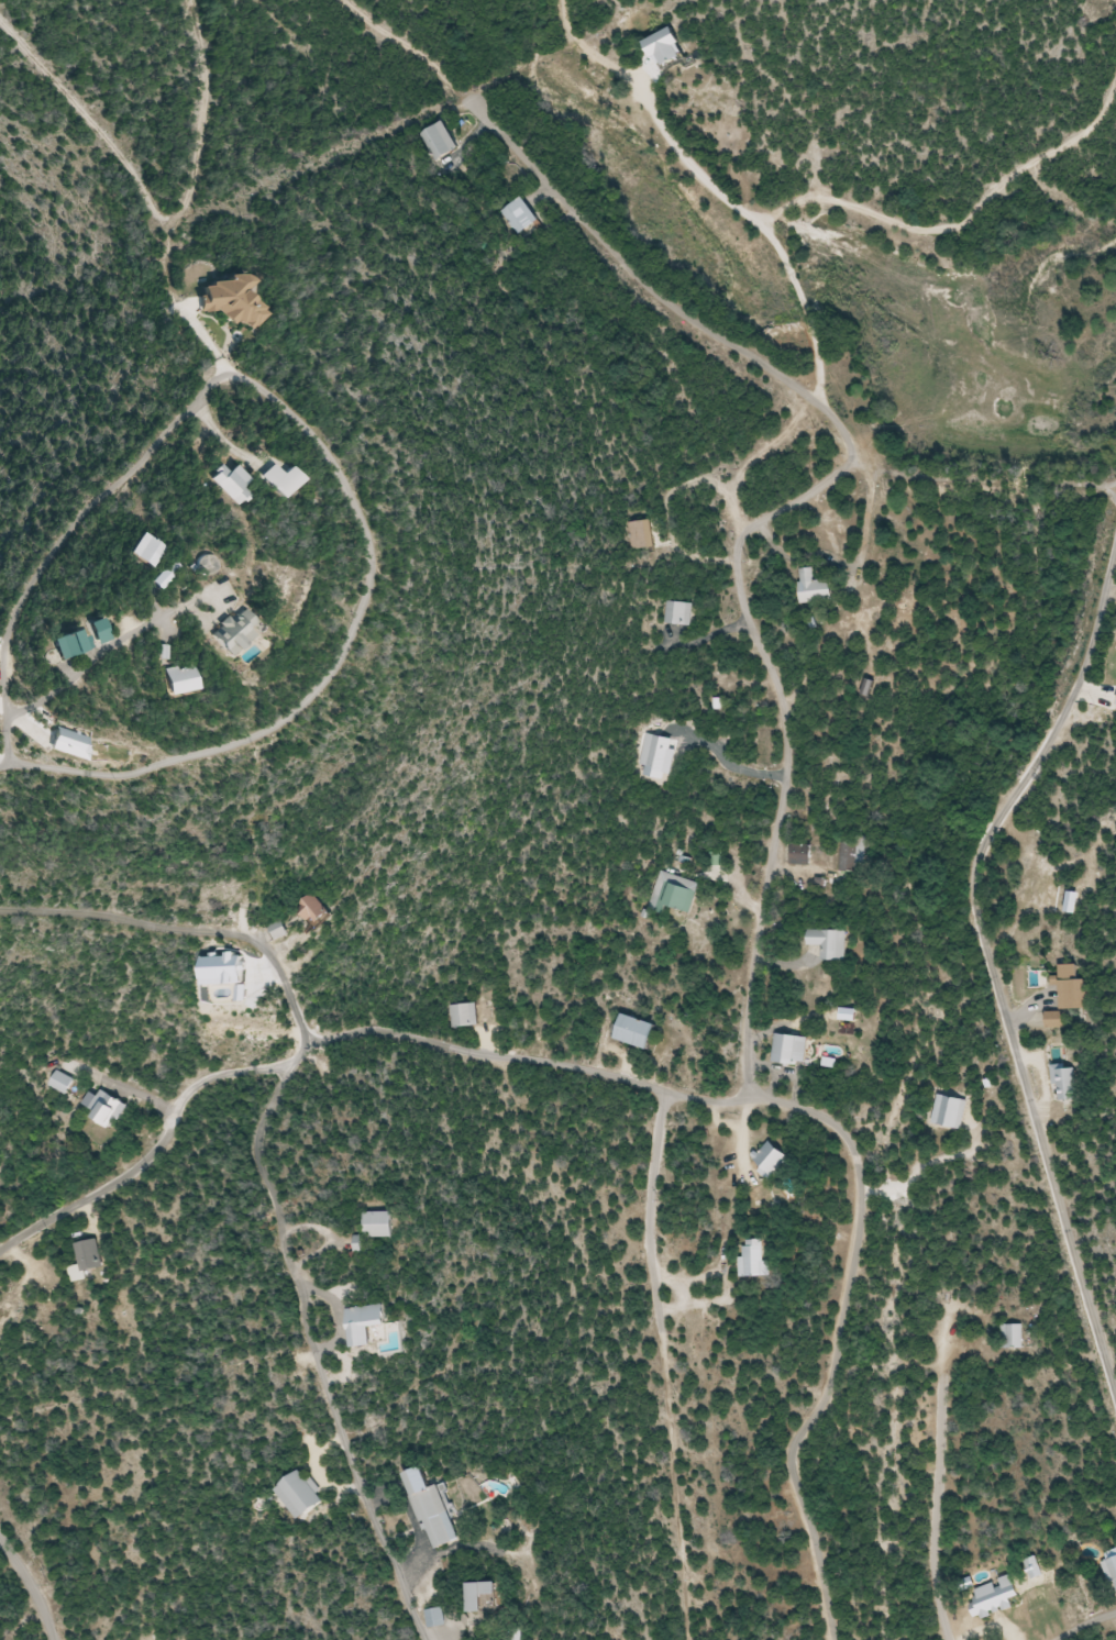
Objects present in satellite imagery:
building: (443, 142)
building: (521, 215)
building: (236, 301)
building: (285, 481)
building: (233, 484)
building: (643, 535)
building: (150, 551)
road: (372, 581)
building: (815, 588)
building: (682, 613)
building: (103, 634)
building: (239, 634)
building: (73, 646)
building: (184, 679)
road: (67, 683)
building: (71, 744)
road: (782, 800)
building: (802, 853)
building: (852, 856)
building: (676, 894)
building: (320, 911)
road: (184, 930)
building: (281, 930)
building: (829, 944)
road: (988, 963)
building: (1073, 988)
building: (466, 1016)
building: (1056, 1019)
building: (640, 1032)
building: (792, 1050)
road: (528, 1062)
building: (65, 1082)
building: (110, 1110)
building: (949, 1111)
road: (155, 1151)
building: (772, 1159)
building: (383, 1225)
building: (90, 1255)
building: (753, 1261)
building: (363, 1318)
building: (1014, 1336)
road: (316, 1342)
road: (938, 1473)
building: (303, 1495)
building: (435, 1510)
building: (1112, 1572)
road: (31, 1586)
building: (486, 1596)
building: (438, 1618)
road: (1087, 1627)

